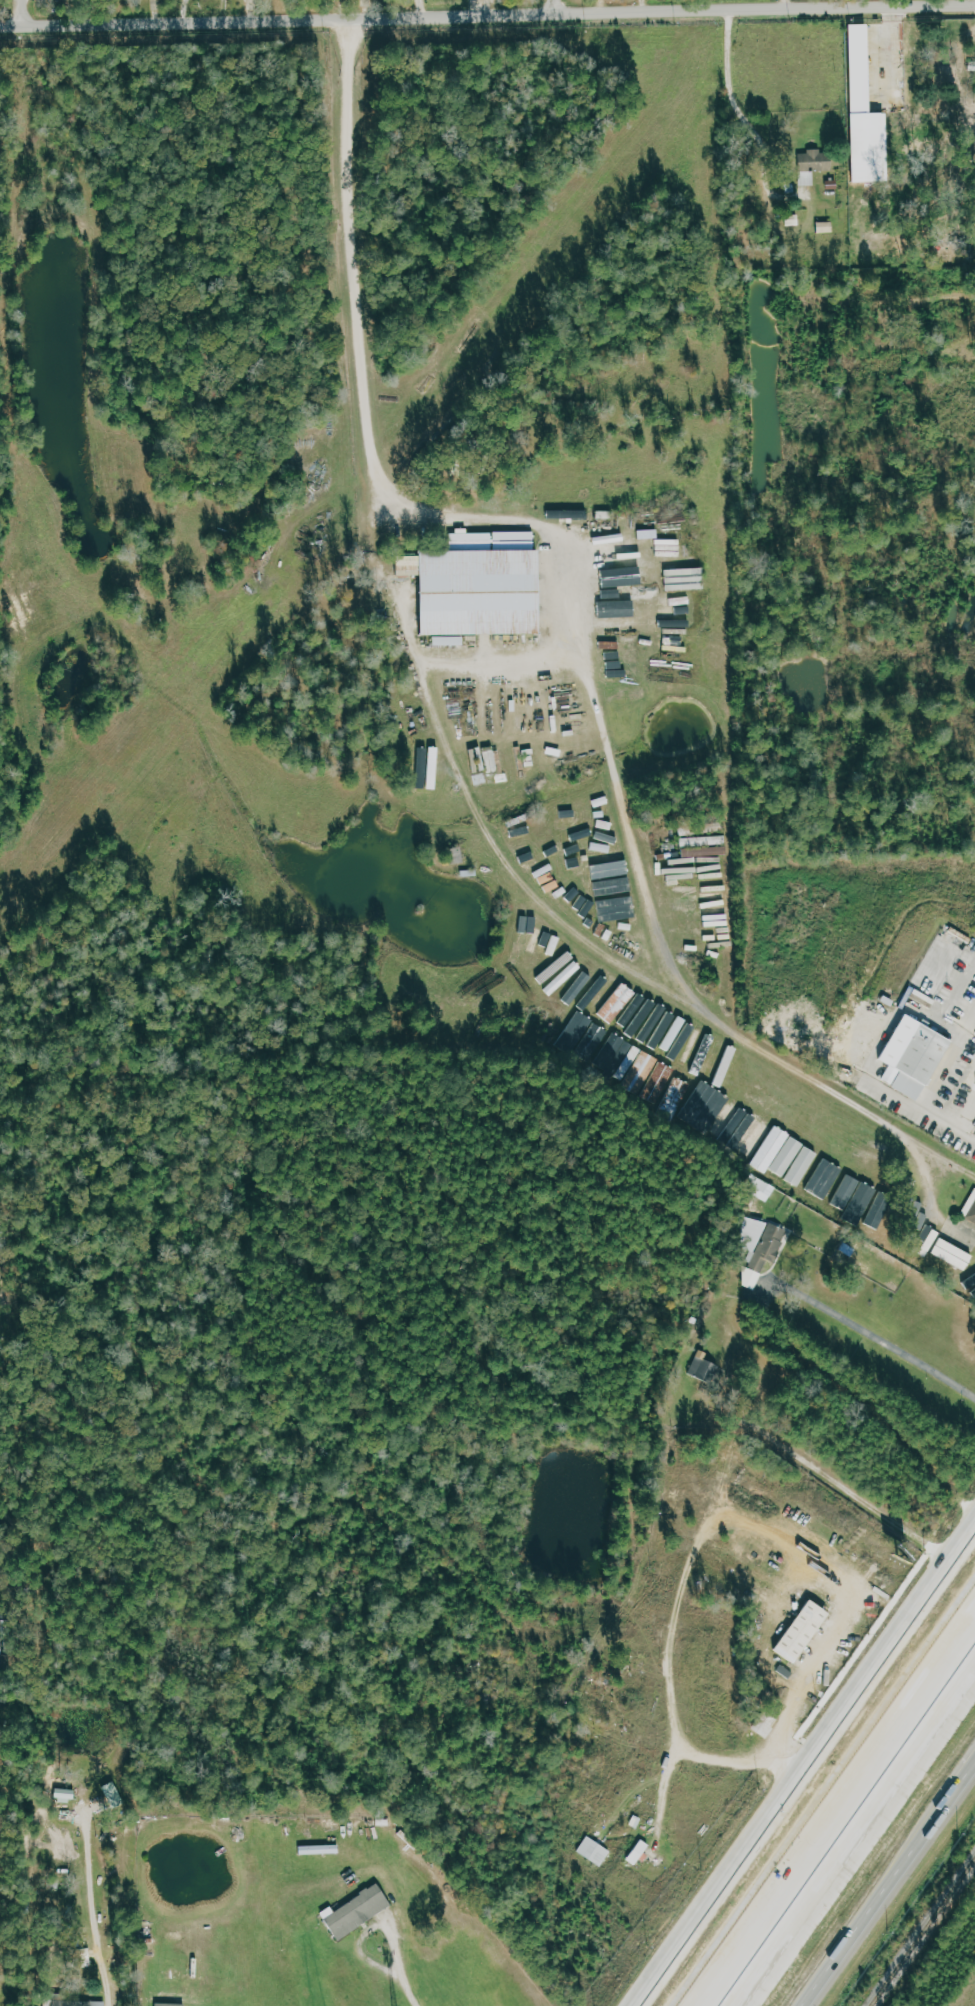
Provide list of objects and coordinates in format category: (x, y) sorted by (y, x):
road: (786, 6)
road: (555, 7)
road: (20, 13)
road: (487, 16)
road: (735, 95)
building: (860, 113)
building: (814, 160)
building: (791, 220)
building: (822, 227)
building: (616, 549)
building: (473, 585)
building: (617, 608)
road: (598, 631)
building: (445, 640)
building: (487, 763)
building: (422, 770)
building: (600, 802)
road: (483, 808)
building: (453, 855)
building: (599, 865)
building: (537, 938)
building: (563, 978)
building: (576, 988)
building: (617, 1003)
building: (583, 1037)
building: (701, 1055)
road: (881, 1058)
building: (920, 1062)
building: (636, 1068)
building: (681, 1087)
building: (728, 1120)
building: (778, 1152)
building: (801, 1166)
building: (826, 1183)
building: (759, 1187)
building: (919, 1215)
building: (755, 1233)
building: (930, 1233)
building: (951, 1254)
building: (764, 1256)
building: (973, 1276)
building: (970, 1288)
road: (887, 1343)
building: (706, 1368)
building: (799, 1631)
road: (946, 1667)
road: (961, 1707)
building: (764, 1723)
road: (808, 1772)
building: (68, 1795)
building: (325, 1849)
building: (593, 1851)
building: (637, 1852)
road: (811, 1857)
road: (848, 1866)
road: (893, 1890)
building: (360, 1911)
railway: (923, 1932)
road: (409, 1981)
building: (172, 2005)

